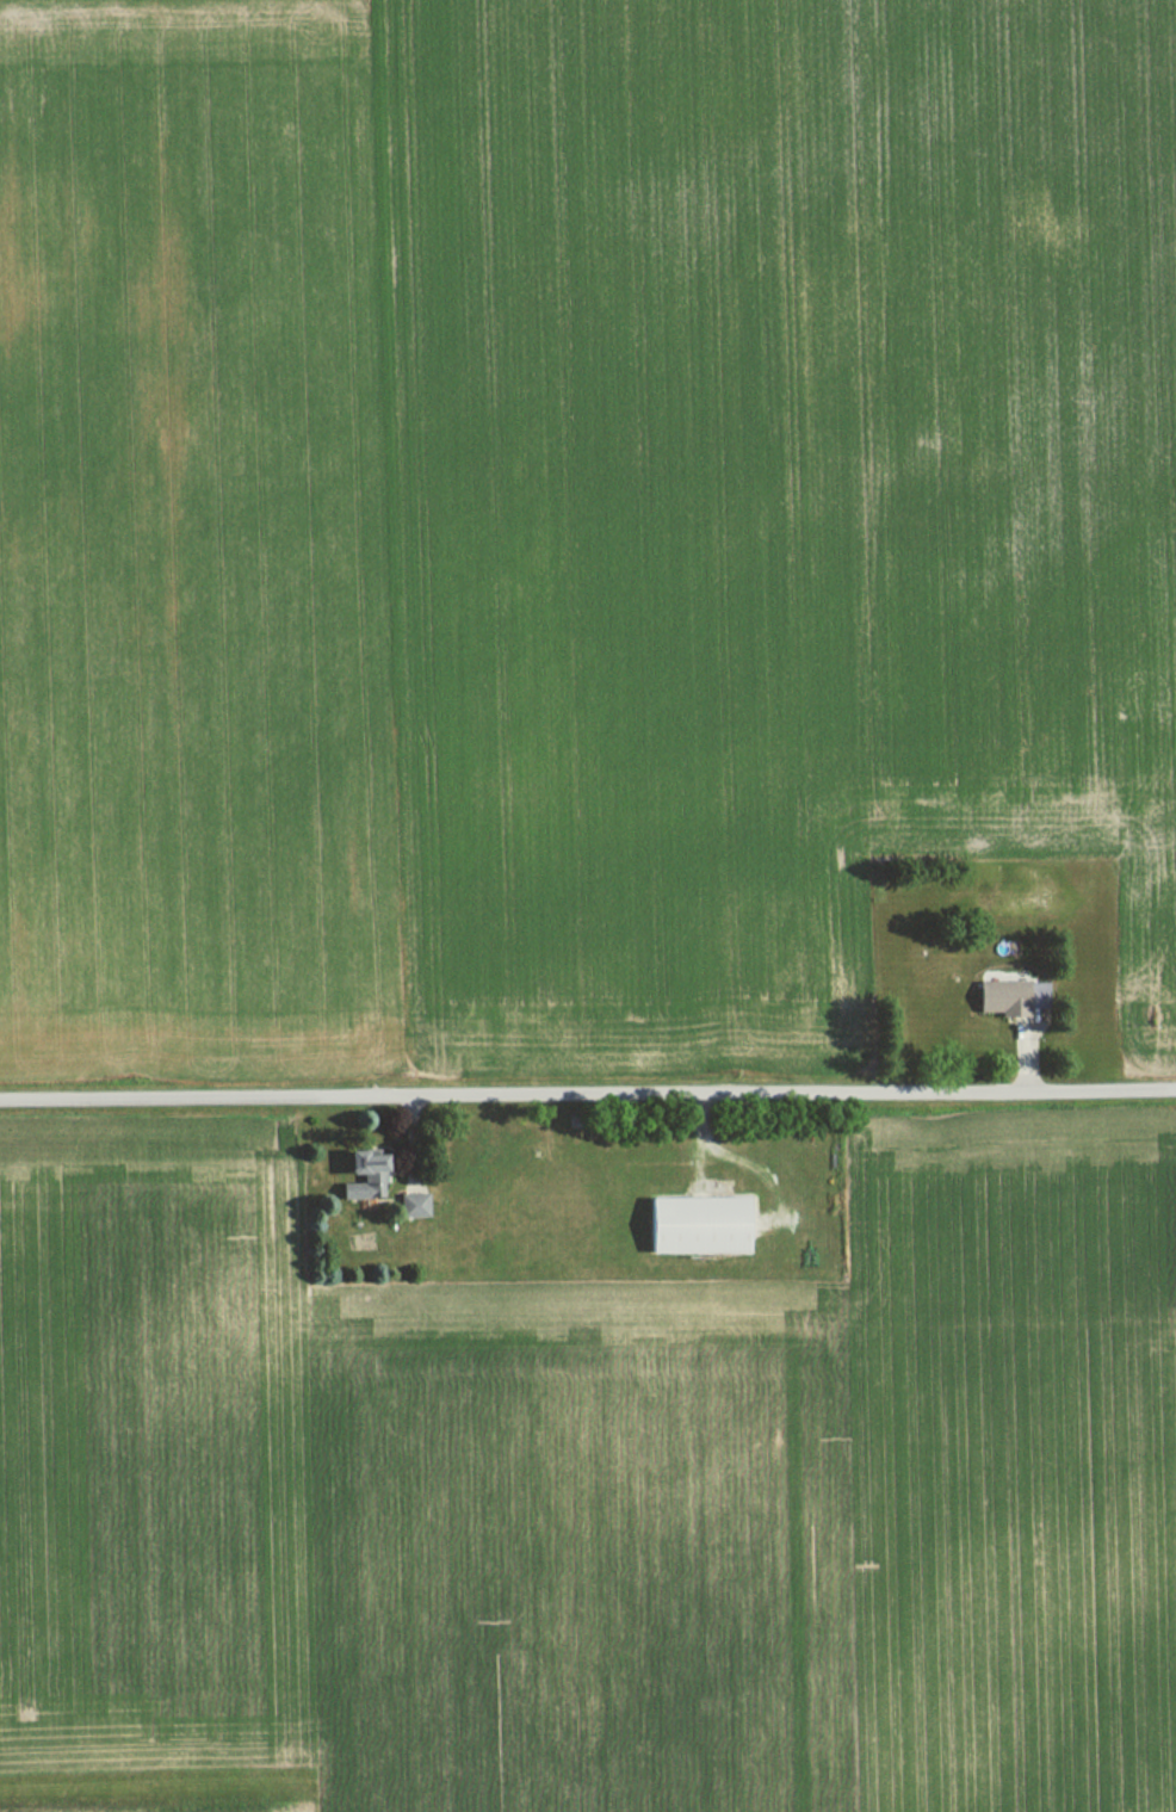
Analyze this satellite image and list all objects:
crop: (194, 410)
crop: (791, 415)
crop: (429, 933)
building: (998, 996)
road: (588, 1093)
building: (407, 1204)
building: (692, 1224)
crop: (1010, 1472)
crop: (395, 1520)

